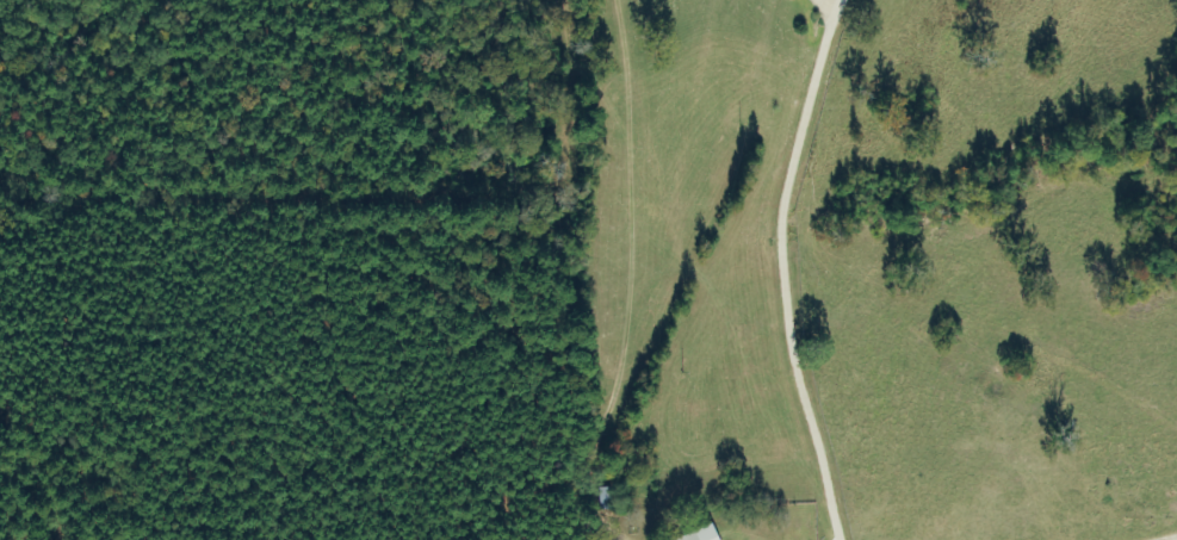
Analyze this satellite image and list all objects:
road: (837, 4)
road: (793, 273)
building: (700, 534)

